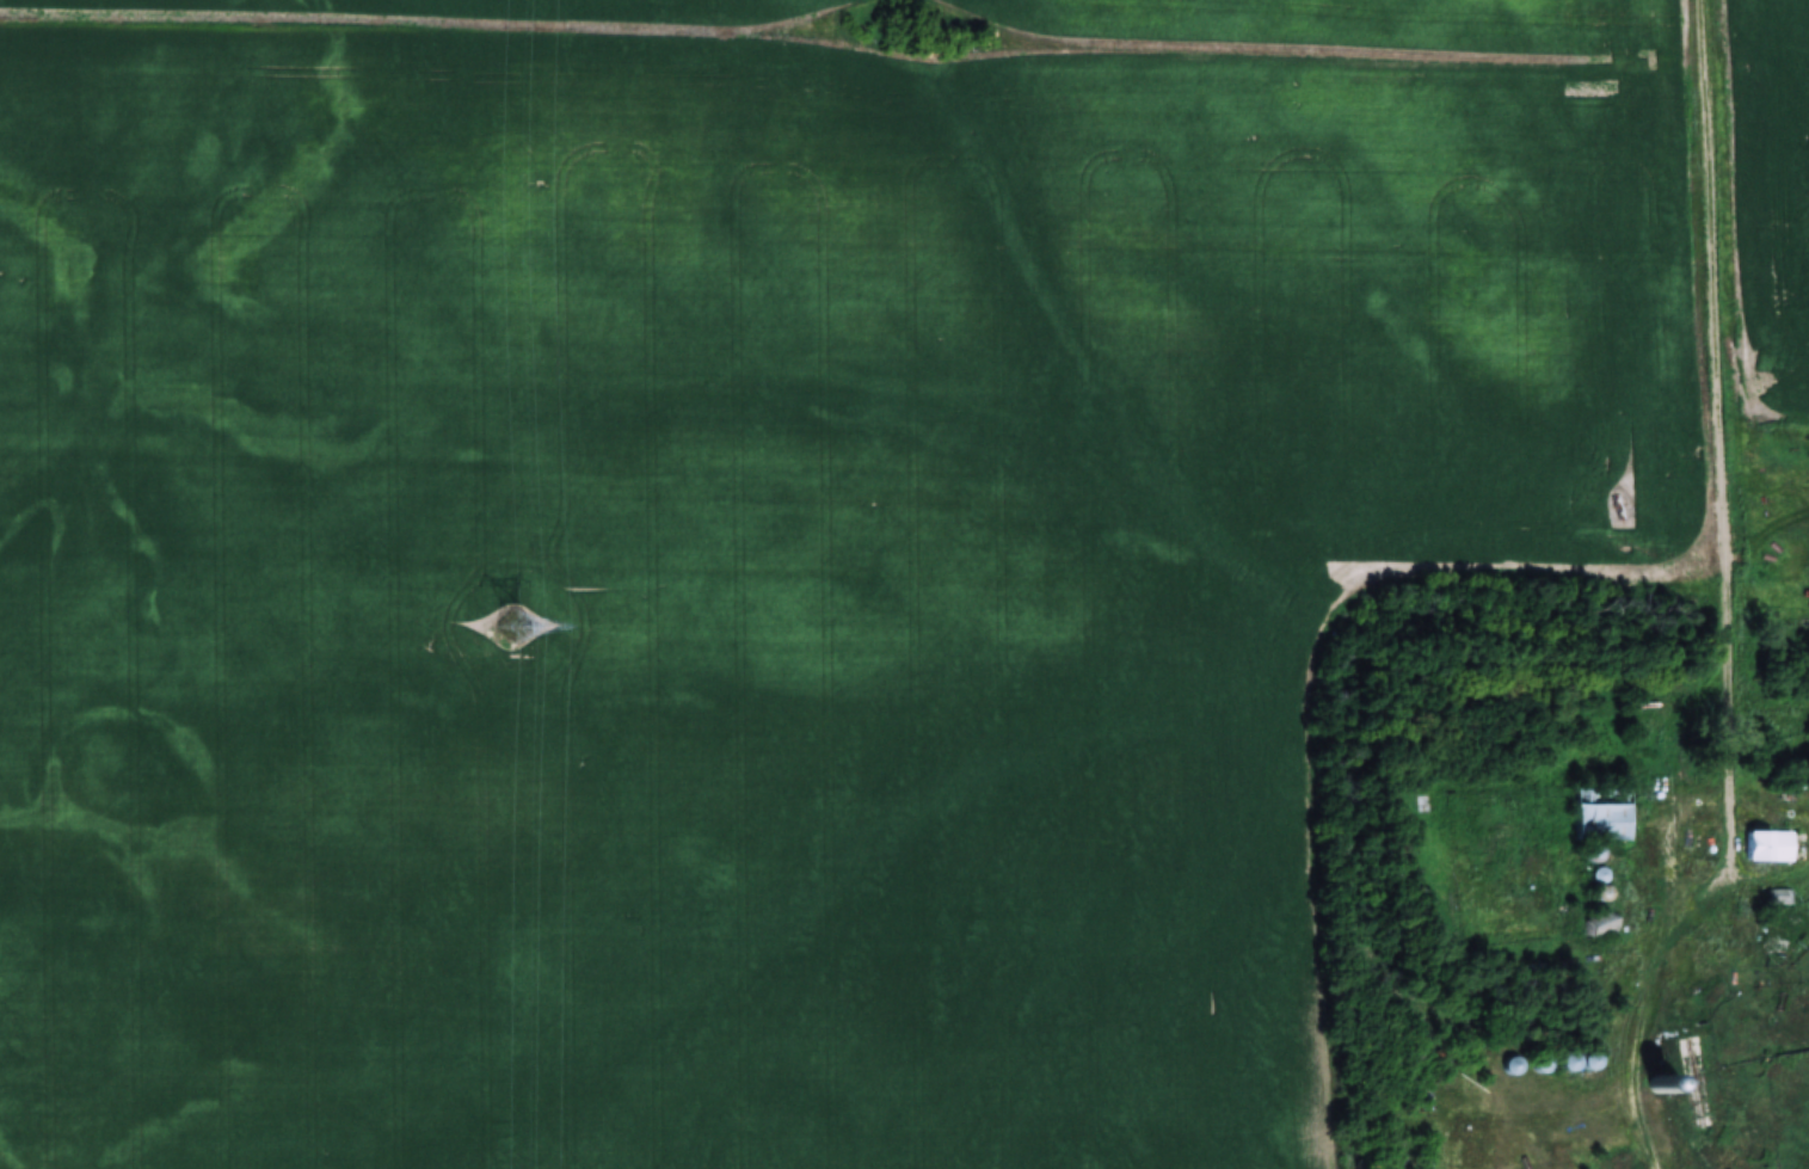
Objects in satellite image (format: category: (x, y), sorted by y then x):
road: (1721, 436)
power tower: (512, 627)
building: (1604, 808)
building: (1768, 845)
building: (1600, 928)
building: (1590, 1062)

